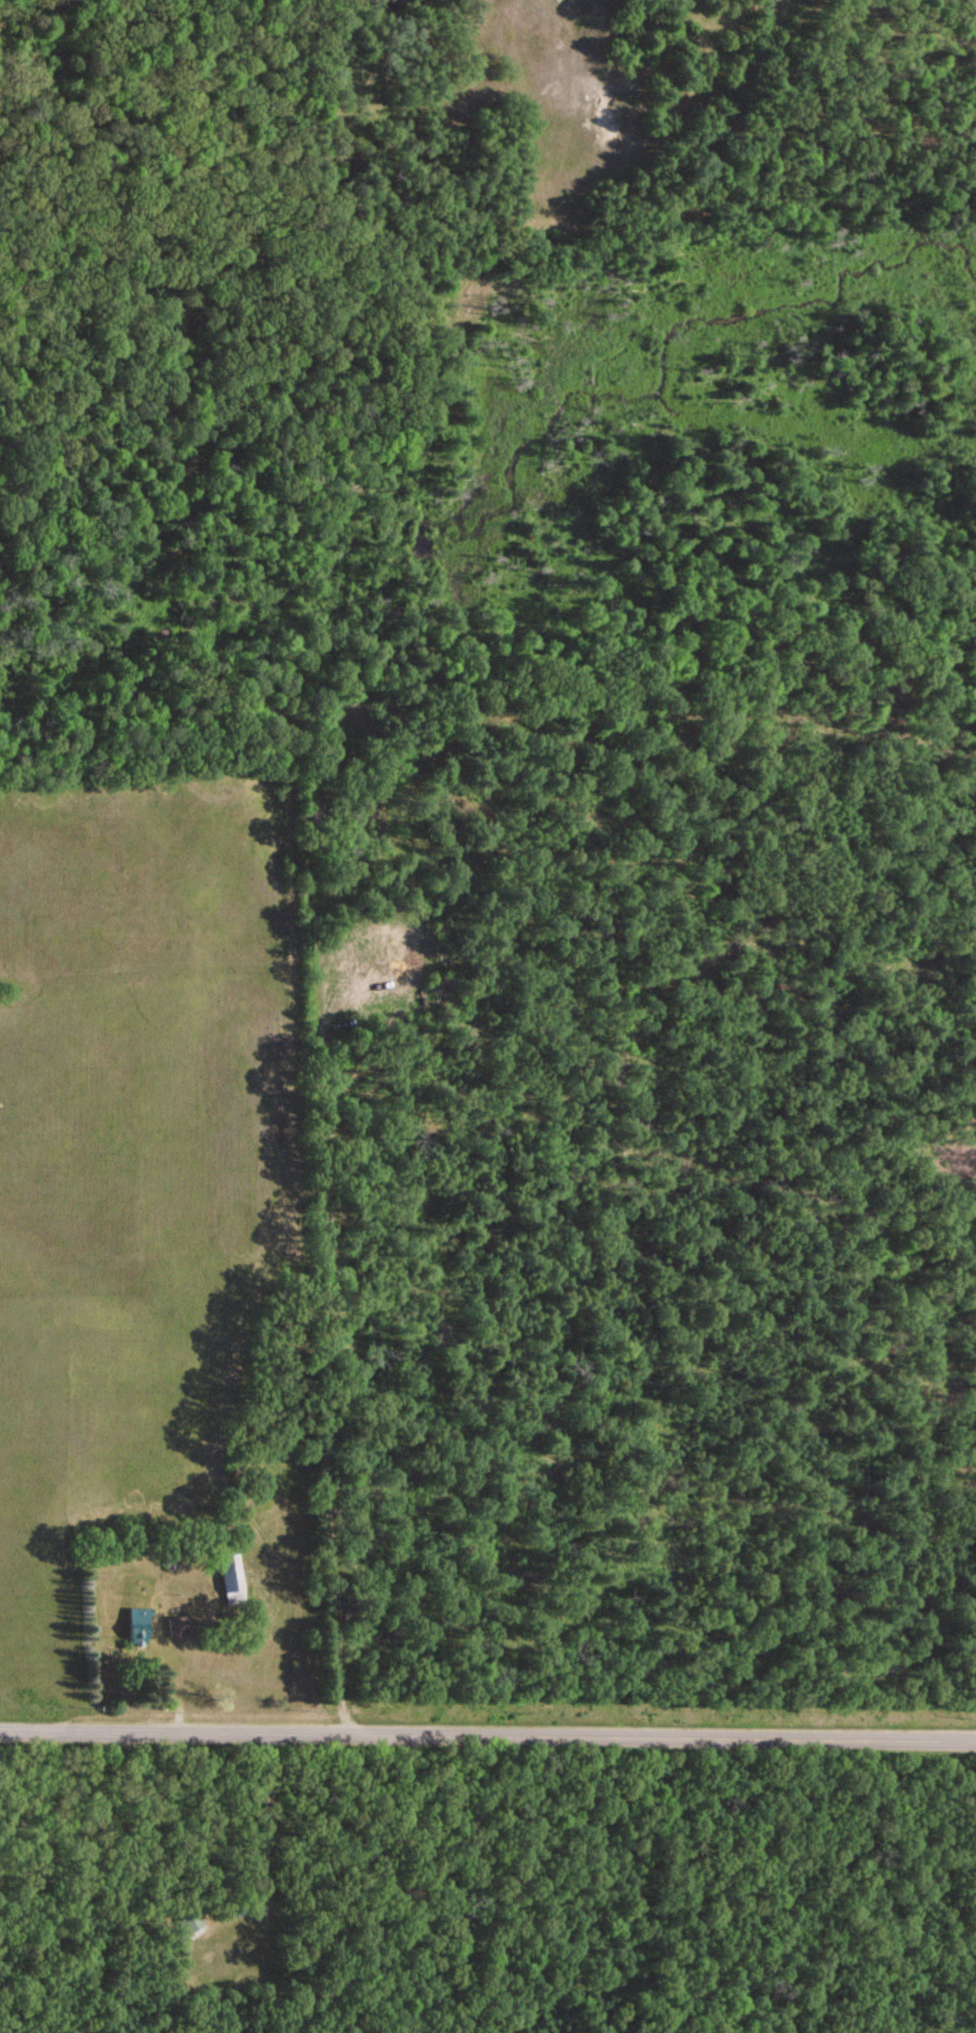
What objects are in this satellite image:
building: (231, 1576)
building: (138, 1629)
road: (487, 1735)
road: (489, 1883)
building: (191, 1919)

